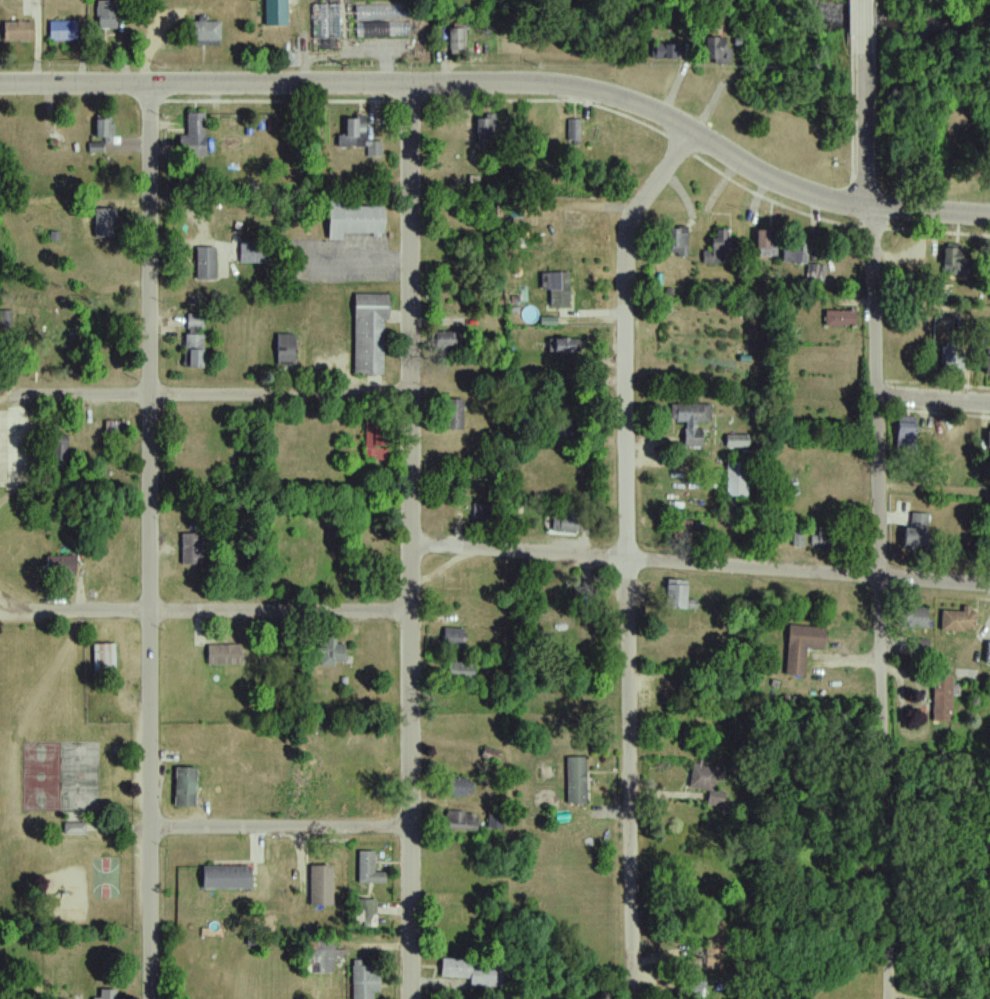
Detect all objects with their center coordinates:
road: (863, 24)
road: (508, 84)
road: (866, 128)
building: (486, 130)
building: (102, 132)
building: (353, 132)
building: (575, 132)
building: (193, 136)
building: (374, 149)
building: (353, 220)
building: (574, 222)
building: (104, 223)
building: (762, 238)
building: (676, 243)
building: (719, 247)
building: (954, 256)
building: (205, 264)
building: (987, 266)
building: (816, 272)
building: (559, 289)
building: (840, 318)
building: (5, 320)
building: (369, 332)
building: (193, 341)
building: (445, 343)
building: (560, 346)
building: (285, 349)
building: (953, 362)
building: (988, 363)
road: (204, 393)
road: (934, 398)
building: (452, 414)
building: (691, 421)
building: (119, 428)
building: (905, 433)
building: (989, 439)
building: (372, 441)
building: (736, 441)
building: (79, 474)
building: (736, 478)
building: (484, 515)
building: (563, 523)
building: (916, 533)
building: (798, 538)
building: (828, 539)
road: (151, 541)
road: (410, 541)
building: (989, 542)
building: (191, 549)
road: (626, 556)
road: (700, 563)
building: (60, 565)
building: (675, 594)
road: (880, 603)
road: (205, 611)
building: (913, 616)
building: (958, 619)
building: (453, 637)
building: (801, 647)
building: (920, 648)
building: (330, 652)
building: (224, 654)
building: (989, 654)
building: (104, 660)
building: (704, 666)
building: (460, 672)
building: (674, 688)
building: (942, 698)
building: (458, 702)
building: (560, 706)
building: (456, 760)
road: (512, 774)
building: (576, 781)
building: (706, 784)
building: (185, 787)
building: (454, 787)
park: (62, 791)
building: (495, 819)
building: (461, 822)
road: (281, 828)
building: (75, 829)
building: (368, 868)
building: (226, 878)
building: (320, 885)
building: (365, 913)
building: (714, 939)
building: (325, 955)
building: (472, 973)
building: (364, 981)
building: (690, 988)
building: (105, 994)

